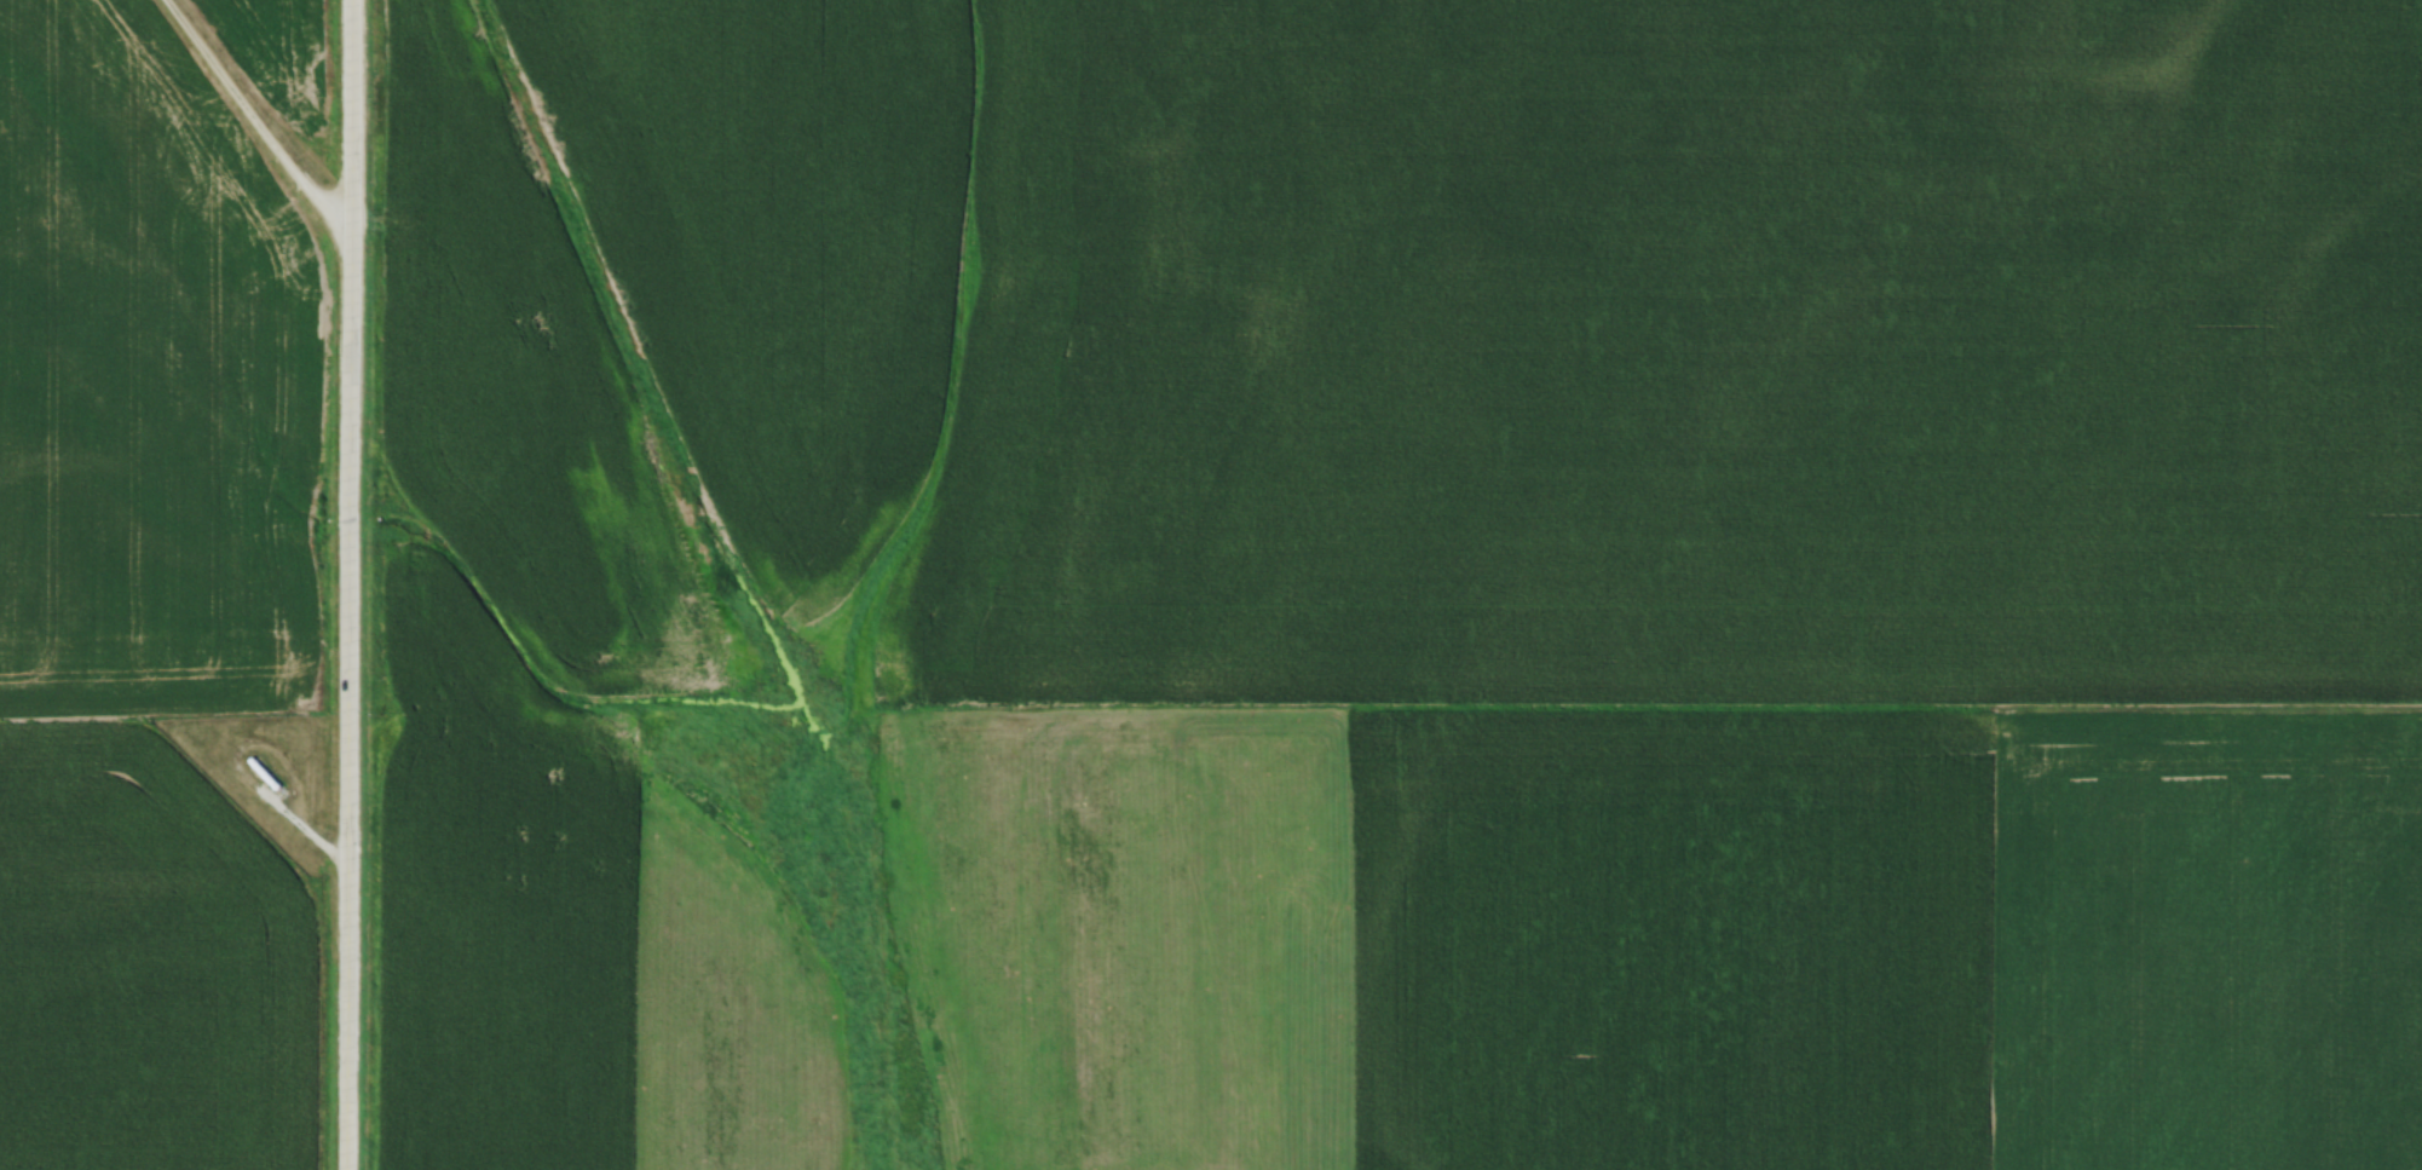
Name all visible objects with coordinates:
road: (253, 123)
crop: (1937, 347)
road: (351, 584)
crop: (143, 968)

